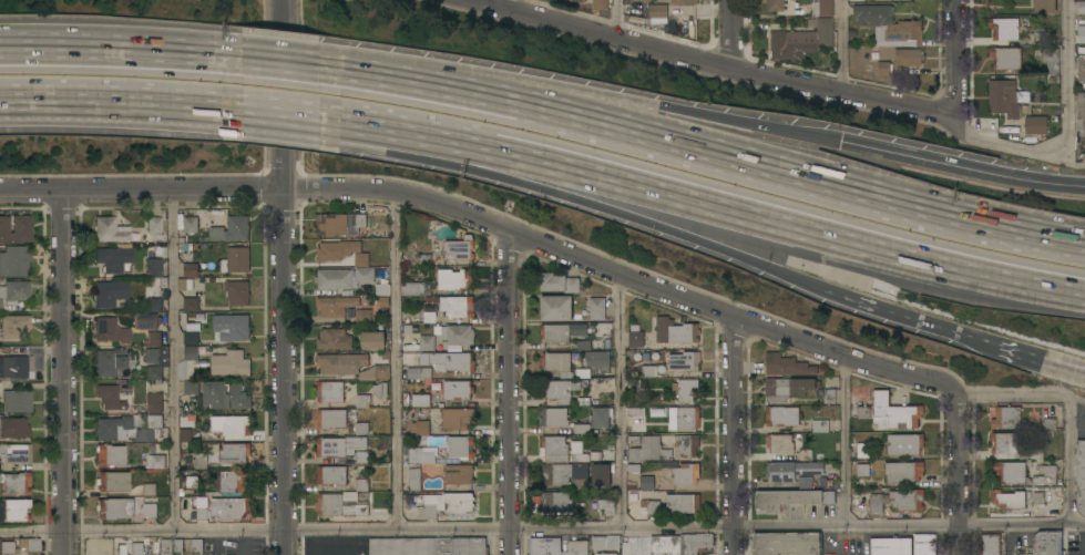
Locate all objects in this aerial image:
building: (639, 0)
building: (856, 0)
building: (575, 1)
building: (683, 2)
road: (508, 4)
building: (600, 6)
building: (780, 7)
building: (1044, 7)
building: (821, 8)
building: (1082, 8)
building: (657, 11)
road: (618, 21)
building: (889, 25)
building: (1004, 29)
building: (1082, 34)
road: (729, 37)
road: (125, 38)
building: (1043, 39)
building: (801, 41)
road: (843, 48)
road: (289, 53)
building: (910, 58)
road: (954, 59)
building: (1004, 59)
building: (1051, 60)
building: (1081, 62)
road: (710, 68)
building: (883, 69)
building: (1003, 99)
road: (662, 109)
road: (126, 110)
building: (1079, 114)
road: (290, 121)
building: (1035, 125)
road: (342, 126)
road: (1066, 137)
road: (707, 144)
road: (961, 171)
road: (585, 205)
road: (721, 208)
road: (489, 222)
building: (153, 224)
building: (191, 225)
building: (339, 225)
building: (4, 229)
building: (21, 229)
building: (232, 229)
building: (110, 230)
building: (182, 247)
building: (459, 249)
building: (329, 251)
building: (423, 259)
building: (109, 260)
building: (236, 260)
building: (361, 260)
building: (13, 261)
building: (405, 263)
building: (153, 268)
building: (191, 270)
building: (364, 276)
road: (282, 277)
building: (332, 279)
building: (454, 280)
building: (559, 284)
building: (416, 289)
building: (379, 290)
building: (14, 291)
building: (387, 291)
building: (237, 292)
building: (104, 295)
building: (385, 301)
building: (154, 305)
building: (191, 305)
building: (335, 306)
building: (453, 306)
building: (556, 308)
building: (597, 309)
building: (362, 317)
building: (429, 317)
road: (898, 317)
building: (146, 321)
building: (13, 326)
building: (232, 328)
building: (408, 329)
building: (110, 331)
building: (676, 331)
building: (562, 332)
building: (191, 335)
building: (457, 335)
building: (635, 339)
building: (334, 340)
building: (372, 341)
building: (427, 343)
building: (607, 343)
building: (583, 345)
building: (155, 357)
building: (386, 357)
road: (175, 360)
road: (396, 360)
road: (1034, 360)
building: (109, 361)
building: (449, 361)
building: (684, 361)
building: (598, 362)
building: (229, 363)
building: (341, 363)
building: (557, 363)
building: (786, 366)
building: (13, 368)
building: (188, 371)
building: (381, 371)
building: (651, 371)
road: (61, 372)
building: (583, 373)
building: (420, 374)
building: (788, 388)
building: (380, 390)
building: (458, 390)
building: (0, 391)
road: (509, 391)
building: (559, 391)
building: (684, 391)
building: (329, 392)
building: (830, 393)
road: (1020, 395)
building: (224, 397)
building: (109, 398)
building: (406, 400)
building: (17, 401)
building: (362, 401)
building: (421, 401)
road: (620, 401)
building: (154, 403)
building: (137, 410)
building: (862, 412)
building: (893, 413)
building: (781, 417)
building: (554, 418)
building: (601, 418)
building: (687, 418)
building: (1005, 418)
building: (330, 419)
building: (457, 419)
building: (154, 421)
building: (1050, 425)
building: (236, 426)
building: (419, 426)
building: (820, 426)
building: (13, 429)
building: (112, 429)
building: (361, 429)
building: (582, 429)
building: (145, 435)
building: (184, 435)
road: (734, 435)
building: (633, 440)
road: (843, 441)
building: (1004, 443)
building: (778, 444)
building: (904, 444)
building: (686, 445)
building: (339, 446)
building: (460, 446)
building: (554, 446)
building: (649, 451)
building: (862, 451)
building: (16, 453)
building: (234, 453)
building: (420, 455)
building: (110, 456)
building: (586, 456)
building: (362, 458)
road: (1071, 460)
building: (156, 462)
building: (201, 462)
building: (634, 467)
building: (862, 470)
building: (791, 471)
building: (902, 472)
building: (564, 473)
building: (1009, 473)
building: (686, 474)
building: (331, 475)
building: (459, 475)
building: (601, 475)
road: (954, 475)
building: (1045, 476)
building: (1081, 477)
building: (413, 479)
building: (191, 480)
building: (112, 482)
building: (229, 482)
building: (16, 483)
building: (646, 483)
building: (805, 483)
building: (361, 485)
building: (149, 490)
building: (191, 493)
building: (1037, 496)
building: (789, 500)
building: (1007, 500)
building: (895, 502)
building: (556, 503)
building: (448, 504)
building: (682, 504)
building: (340, 505)
building: (653, 507)
building: (16, 510)
building: (129, 510)
building: (223, 510)
road: (542, 528)
building: (146, 541)
building: (605, 543)
building: (1047, 543)
building: (680, 544)
building: (786, 544)
building: (32, 545)
parking lot: (332, 545)
building: (924, 545)
building: (989, 545)
building: (178, 546)
building: (196, 546)
building: (428, 546)
building: (6, 547)
building: (156, 547)
building: (166, 547)
building: (555, 547)
building: (890, 547)
building: (136, 548)
building: (120, 549)
road: (340, 554)
building: (605, 554)

